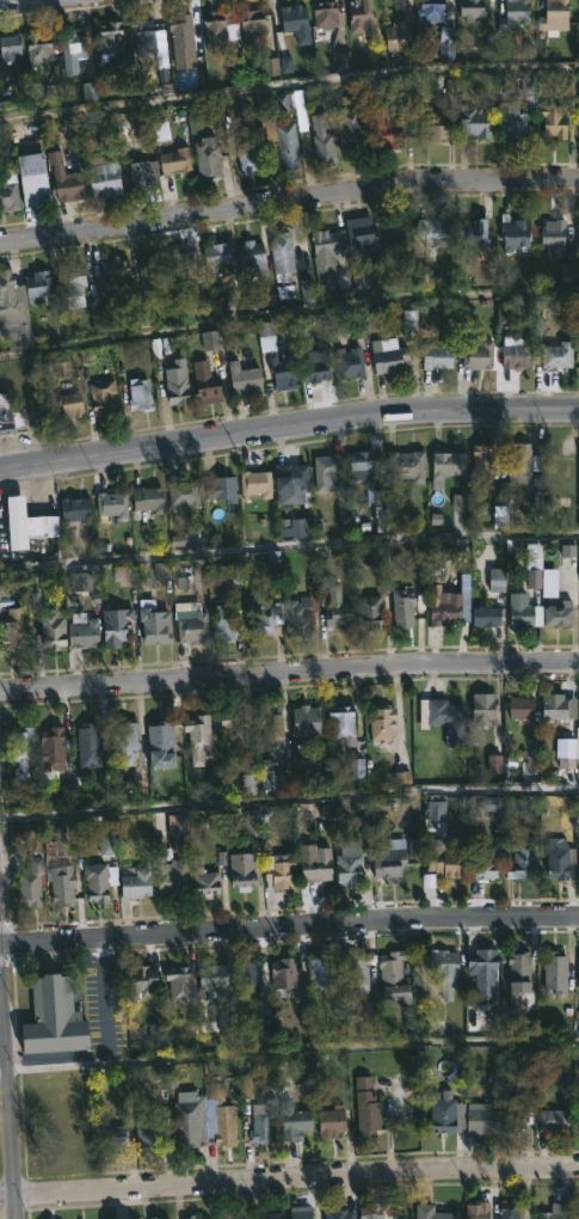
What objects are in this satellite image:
road: (33, 4)
building: (470, 8)
building: (429, 12)
building: (513, 13)
building: (324, 14)
building: (553, 14)
building: (361, 17)
building: (294, 23)
building: (250, 26)
building: (180, 31)
building: (217, 31)
building: (143, 37)
building: (107, 38)
building: (395, 38)
building: (8, 48)
building: (37, 50)
building: (72, 51)
building: (578, 84)
road: (289, 91)
building: (511, 121)
building: (554, 123)
building: (473, 124)
building: (386, 125)
building: (432, 125)
building: (350, 131)
building: (321, 139)
building: (287, 146)
building: (24, 148)
building: (207, 157)
building: (175, 161)
building: (248, 161)
building: (142, 174)
building: (101, 177)
building: (67, 186)
building: (32, 189)
building: (8, 197)
road: (288, 204)
building: (431, 231)
building: (515, 232)
building: (577, 232)
building: (363, 234)
building: (558, 235)
building: (475, 237)
building: (322, 253)
building: (215, 255)
building: (282, 255)
building: (251, 258)
building: (181, 259)
building: (115, 268)
building: (147, 269)
building: (72, 283)
building: (37, 284)
building: (13, 306)
road: (288, 317)
building: (555, 351)
building: (476, 353)
building: (437, 354)
building: (517, 354)
building: (388, 355)
building: (349, 361)
building: (315, 366)
building: (282, 372)
building: (244, 376)
building: (175, 381)
building: (205, 382)
building: (138, 393)
building: (101, 396)
building: (70, 404)
building: (12, 416)
road: (288, 424)
building: (362, 461)
building: (518, 463)
building: (405, 464)
building: (483, 464)
building: (446, 465)
building: (324, 470)
building: (290, 477)
building: (254, 483)
building: (220, 489)
building: (181, 495)
building: (147, 498)
building: (110, 502)
building: (75, 508)
building: (21, 520)
road: (289, 551)
building: (532, 564)
building: (569, 575)
building: (444, 606)
building: (401, 607)
building: (337, 608)
building: (369, 611)
building: (522, 611)
building: (260, 614)
building: (556, 614)
building: (296, 615)
building: (483, 615)
building: (223, 621)
building: (153, 623)
building: (115, 625)
building: (192, 626)
building: (51, 627)
building: (13, 629)
building: (82, 633)
road: (289, 673)
building: (482, 706)
building: (519, 707)
building: (559, 707)
building: (446, 719)
building: (341, 722)
building: (382, 722)
building: (303, 723)
building: (271, 724)
building: (234, 730)
building: (197, 737)
building: (159, 739)
building: (123, 741)
building: (87, 745)
building: (50, 747)
building: (567, 748)
building: (21, 753)
road: (289, 807)
building: (437, 811)
building: (24, 831)
building: (559, 857)
building: (388, 858)
building: (441, 858)
building: (349, 862)
building: (521, 862)
building: (485, 863)
building: (577, 863)
building: (315, 865)
building: (241, 869)
building: (277, 871)
building: (171, 878)
building: (203, 878)
building: (96, 882)
building: (134, 882)
building: (62, 884)
building: (29, 886)
road: (289, 926)
building: (443, 969)
building: (578, 970)
building: (482, 972)
building: (321, 973)
building: (356, 973)
building: (554, 974)
building: (283, 975)
building: (517, 975)
building: (393, 978)
building: (140, 979)
building: (211, 979)
building: (247, 979)
building: (177, 982)
building: (50, 1017)
road: (289, 1055)
road: (11, 1082)
building: (248, 1085)
building: (365, 1105)
building: (445, 1111)
building: (578, 1114)
building: (217, 1116)
building: (513, 1116)
building: (480, 1117)
building: (186, 1119)
building: (553, 1120)
building: (291, 1121)
building: (331, 1121)
building: (261, 1122)
building: (147, 1132)
building: (113, 1137)
road: (289, 1176)
building: (369, 1211)
building: (475, 1211)
building: (509, 1211)
building: (298, 1212)
building: (555, 1212)
building: (431, 1213)
building: (337, 1214)
building: (578, 1214)
building: (226, 1215)
building: (266, 1215)
building: (193, 1217)

